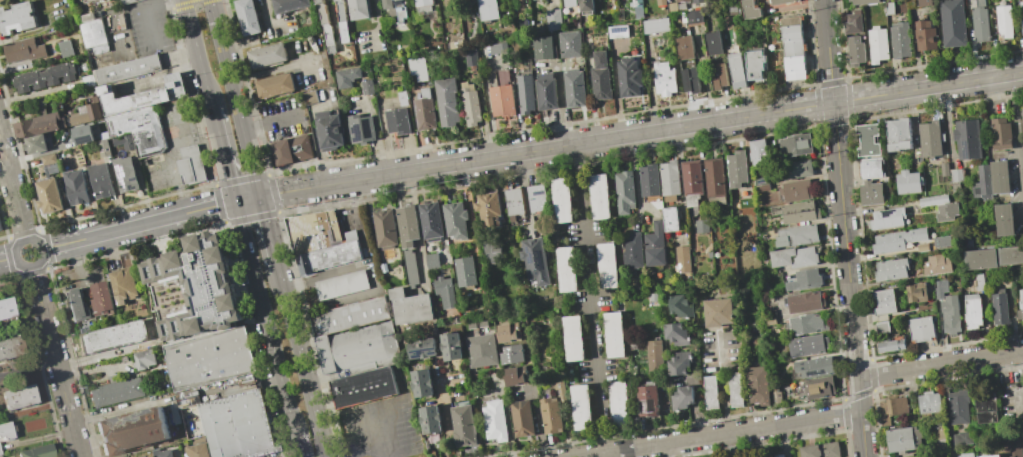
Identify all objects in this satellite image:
building: (679, 0)
building: (968, 0)
building: (129, 1)
building: (660, 1)
building: (697, 1)
building: (779, 1)
building: (4, 2)
building: (422, 2)
building: (448, 2)
building: (568, 2)
building: (864, 2)
building: (925, 2)
building: (980, 3)
building: (288, 5)
building: (681, 5)
building: (586, 6)
building: (637, 7)
building: (672, 7)
building: (395, 8)
building: (890, 8)
building: (358, 9)
building: (749, 9)
building: (488, 10)
road: (145, 11)
building: (1021, 15)
building: (246, 16)
building: (693, 16)
building: (16, 18)
building: (553, 19)
building: (341, 20)
building: (1004, 21)
building: (854, 23)
building: (954, 23)
building: (656, 25)
building: (982, 25)
building: (325, 26)
parking lot: (149, 27)
building: (617, 31)
building: (93, 33)
building: (926, 35)
building: (901, 39)
building: (713, 42)
building: (569, 44)
building: (879, 46)
building: (684, 47)
building: (65, 48)
building: (498, 48)
building: (542, 48)
building: (792, 48)
building: (23, 50)
road: (827, 51)
building: (856, 51)
road: (198, 54)
building: (267, 56)
building: (470, 59)
building: (754, 63)
road: (275, 68)
building: (418, 68)
building: (126, 69)
building: (737, 69)
building: (718, 75)
building: (601, 76)
building: (45, 77)
building: (346, 77)
building: (629, 77)
building: (664, 78)
building: (690, 80)
building: (274, 85)
building: (366, 87)
building: (574, 87)
road: (233, 88)
road: (617, 89)
building: (546, 91)
building: (501, 94)
building: (525, 94)
building: (142, 95)
building: (310, 97)
building: (447, 100)
building: (469, 104)
road: (562, 107)
building: (93, 109)
building: (424, 114)
building: (1022, 115)
building: (77, 118)
parking lot: (282, 120)
building: (397, 120)
road: (269, 123)
building: (39, 125)
building: (138, 129)
building: (360, 129)
building: (329, 130)
building: (1000, 133)
building: (82, 134)
building: (898, 134)
building: (103, 135)
building: (930, 138)
building: (966, 139)
building: (868, 140)
building: (123, 142)
building: (35, 144)
building: (795, 145)
building: (104, 149)
road: (1016, 149)
building: (291, 150)
building: (758, 151)
road: (531, 152)
building: (77, 155)
road: (224, 156)
building: (48, 159)
building: (191, 165)
building: (51, 168)
building: (737, 168)
building: (798, 169)
building: (870, 169)
building: (944, 169)
building: (125, 173)
building: (999, 177)
building: (100, 180)
building: (649, 180)
building: (669, 180)
building: (955, 180)
building: (691, 181)
building: (714, 181)
building: (908, 182)
building: (981, 184)
building: (75, 187)
road: (258, 187)
road: (12, 188)
building: (795, 190)
building: (624, 192)
building: (870, 193)
building: (48, 196)
building: (601, 197)
traffic signals: (261, 198)
building: (536, 198)
building: (563, 200)
building: (932, 200)
traffic signals: (237, 203)
building: (514, 203)
building: (489, 208)
building: (945, 211)
building: (797, 212)
building: (886, 218)
building: (670, 219)
building: (1003, 219)
building: (430, 220)
building: (455, 220)
building: (406, 225)
building: (701, 226)
building: (384, 229)
building: (313, 232)
road: (270, 234)
building: (796, 235)
road: (30, 239)
building: (897, 239)
building: (941, 241)
building: (654, 245)
building: (922, 247)
rooftop solar panel: (529, 249)
building: (493, 250)
building: (632, 250)
building: (1010, 255)
building: (328, 256)
rooftop solar panel: (532, 257)
rooftop solar panel: (542, 257)
building: (794, 257)
building: (682, 258)
building: (980, 258)
road: (8, 259)
building: (432, 260)
building: (536, 260)
building: (935, 265)
building: (608, 266)
building: (410, 268)
building: (568, 269)
building: (891, 269)
building: (465, 271)
road: (848, 279)
building: (804, 280)
building: (979, 281)
building: (122, 284)
building: (341, 285)
building: (192, 288)
building: (940, 288)
building: (444, 292)
building: (916, 292)
building: (101, 298)
road: (590, 300)
building: (804, 301)
building: (883, 301)
building: (680, 305)
building: (76, 306)
building: (410, 306)
building: (1020, 306)
building: (999, 308)
building: (7, 309)
building: (717, 312)
building: (769, 313)
building: (972, 313)
building: (950, 314)
road: (266, 315)
building: (349, 316)
building: (769, 321)
building: (806, 324)
building: (483, 326)
building: (472, 328)
building: (882, 328)
building: (921, 328)
building: (507, 332)
building: (615, 335)
building: (676, 335)
building: (111, 337)
building: (574, 338)
building: (634, 343)
building: (890, 344)
building: (807, 345)
building: (451, 346)
building: (11, 347)
building: (422, 348)
building: (358, 349)
rooftop solar panel: (422, 350)
rooftop solar panel: (433, 351)
building: (481, 351)
building: (512, 354)
building: (654, 356)
road: (1022, 356)
building: (143, 358)
building: (211, 359)
road: (56, 361)
building: (679, 362)
road: (940, 363)
road: (302, 364)
building: (815, 367)
building: (515, 375)
building: (422, 382)
road: (723, 385)
building: (758, 385)
building: (362, 386)
building: (818, 387)
building: (559, 390)
building: (736, 390)
building: (116, 392)
building: (711, 393)
building: (19, 397)
building: (776, 397)
building: (681, 398)
building: (646, 400)
building: (929, 402)
building: (619, 404)
building: (896, 406)
building: (958, 406)
building: (581, 407)
building: (986, 408)
building: (550, 416)
building: (522, 418)
building: (430, 419)
building: (494, 421)
building: (463, 424)
building: (239, 425)
building: (6, 430)
building: (130, 430)
road: (373, 431)
road: (723, 434)
building: (962, 438)
building: (904, 439)
road: (298, 443)
building: (1014, 447)
building: (196, 448)
road: (351, 450)
road: (667, 450)
building: (820, 450)
building: (36, 451)
building: (165, 453)
road: (604, 455)
building: (779, 455)
building: (966, 455)
building: (0, 456)
building: (150, 456)
building: (992, 456)

